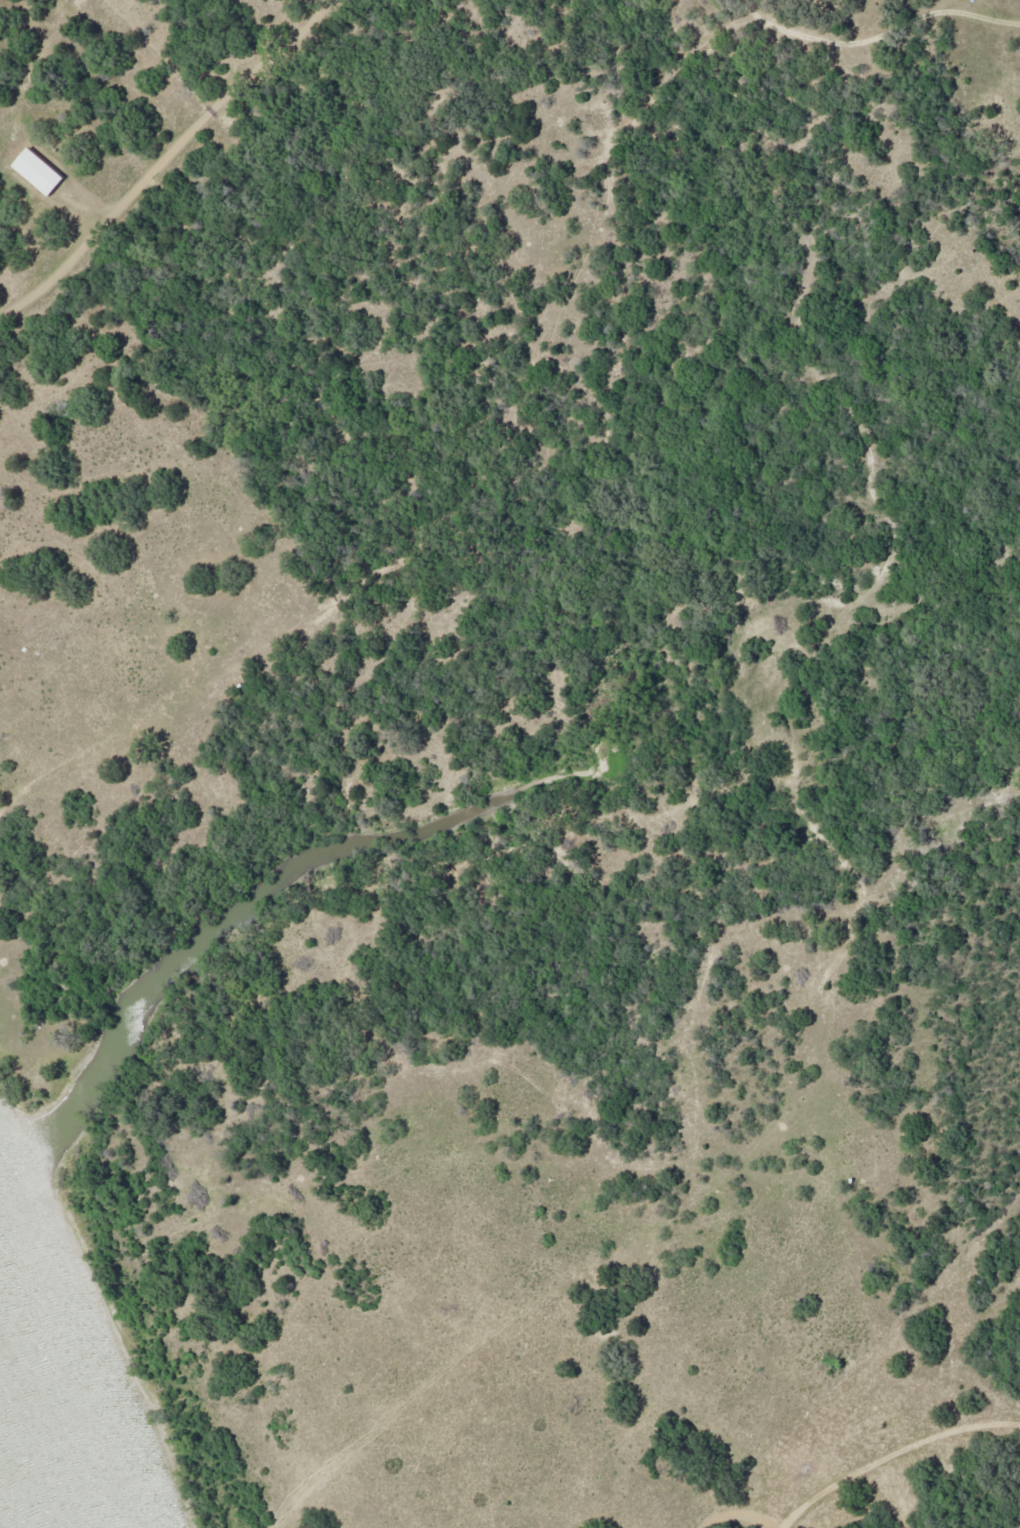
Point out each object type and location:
road: (882, 40)
road: (168, 162)
building: (42, 171)
river: (34, 1449)
road: (893, 1458)

